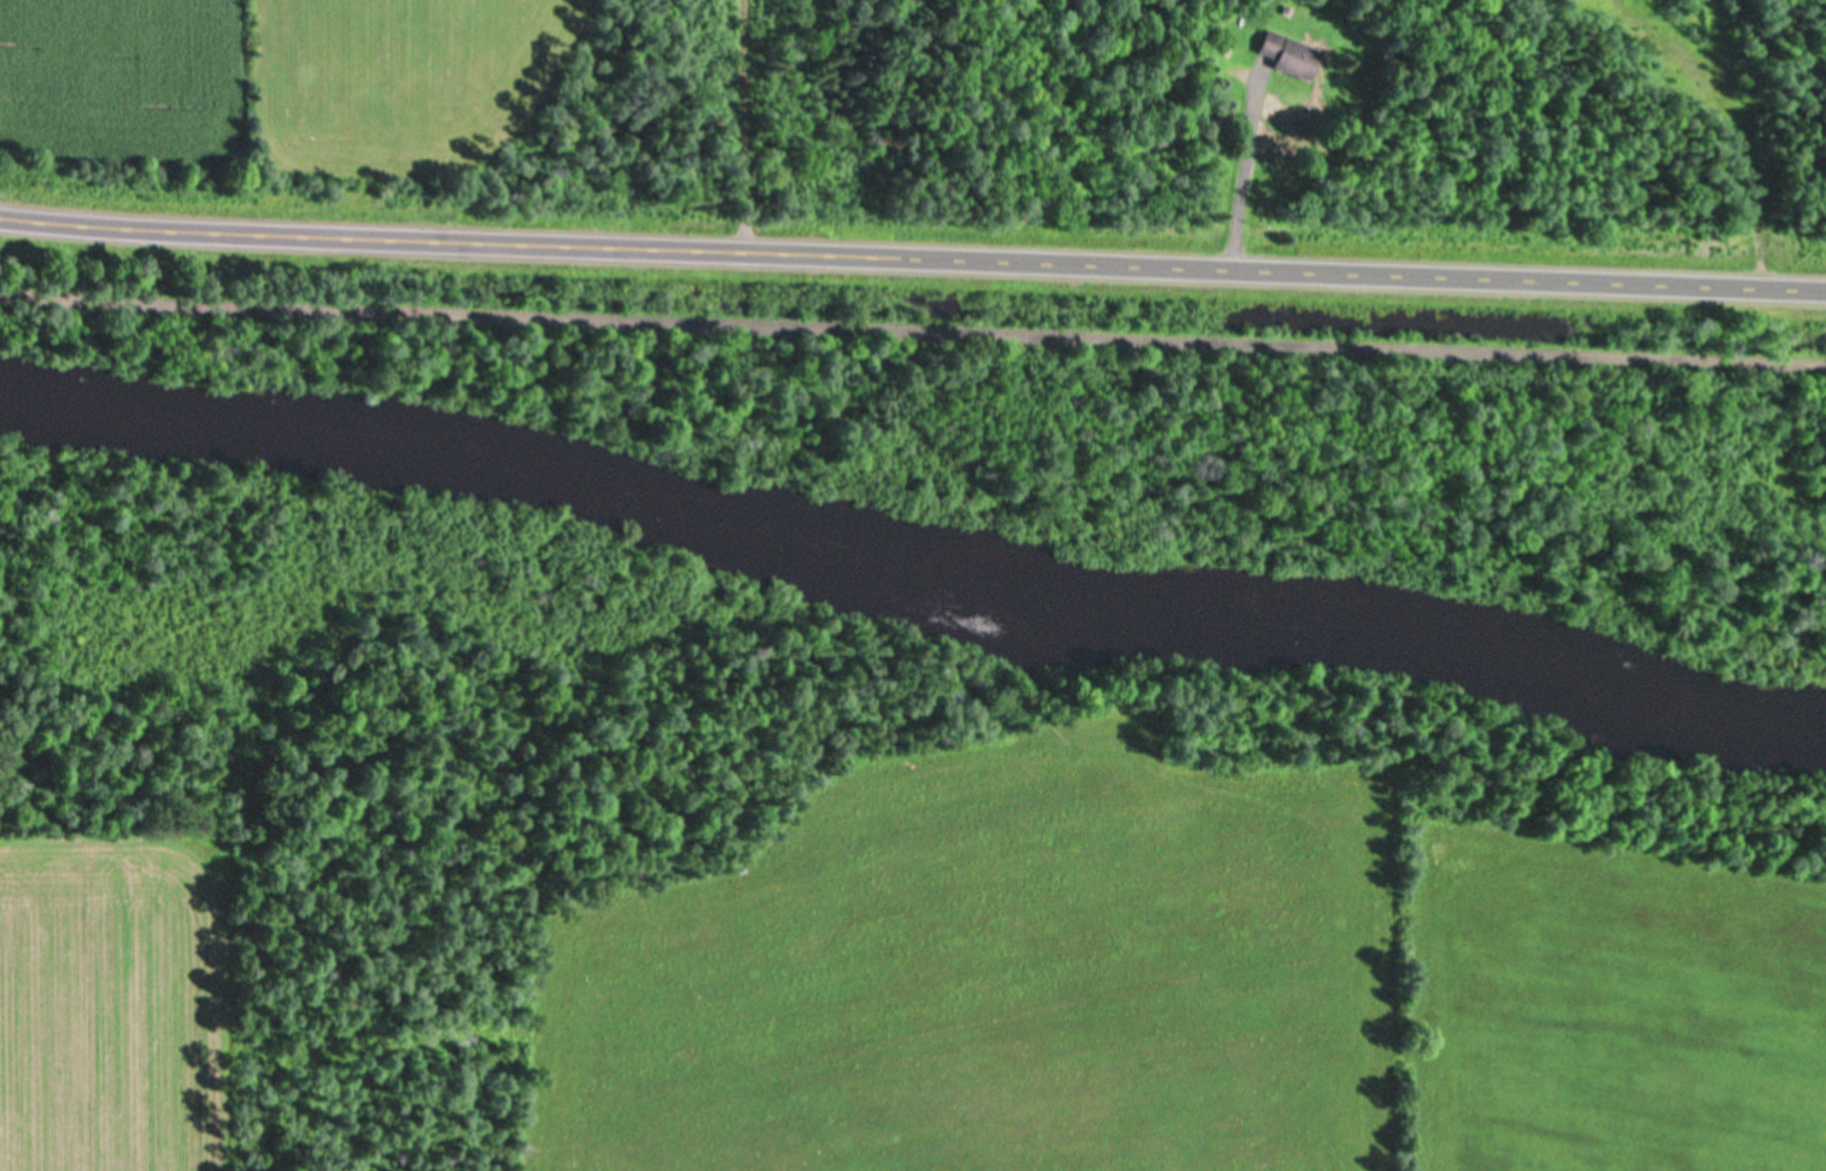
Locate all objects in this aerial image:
building: (1291, 52)
road: (748, 125)
road: (912, 256)
road: (912, 328)
river: (907, 576)

